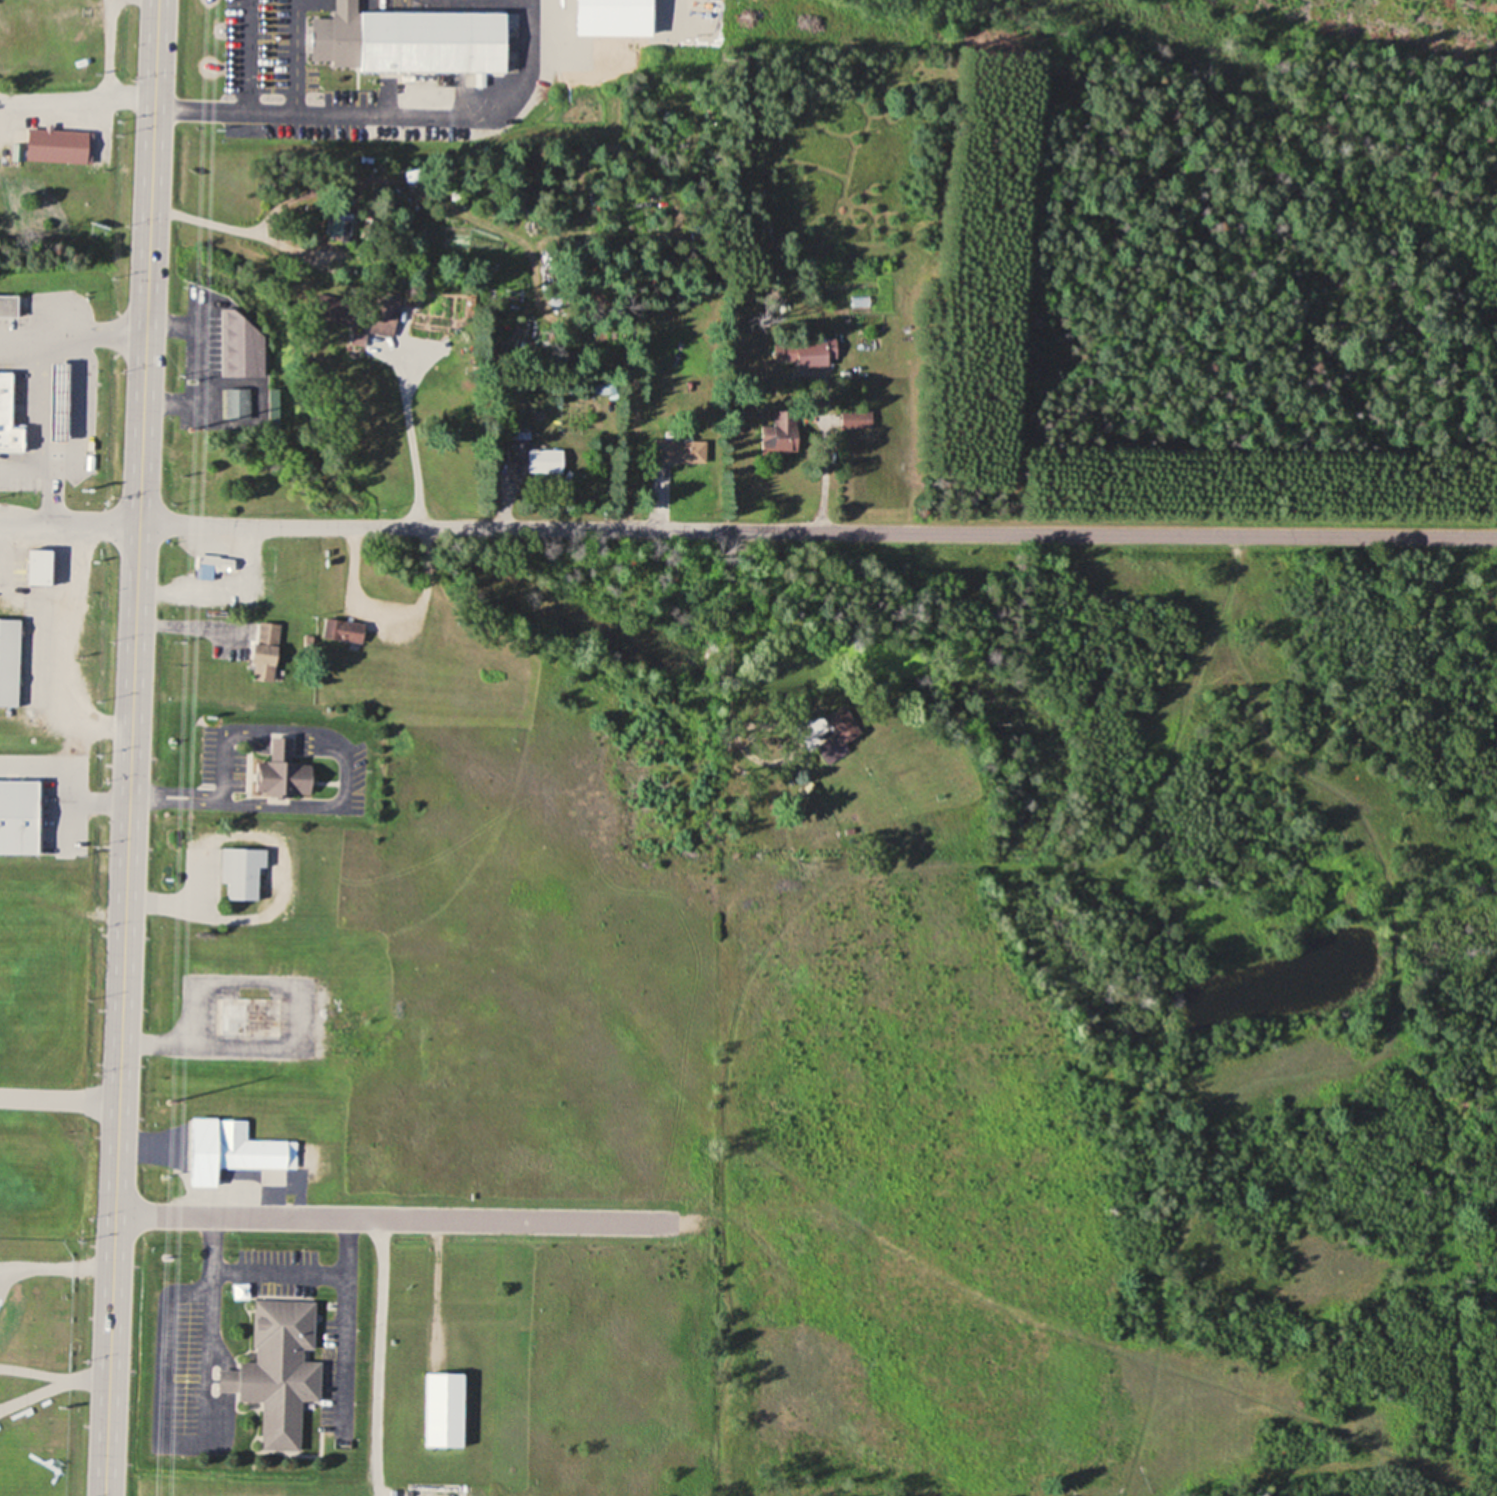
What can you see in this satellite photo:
building: (391, 41)
road: (76, 101)
building: (56, 147)
building: (342, 228)
building: (8, 306)
building: (384, 315)
building: (244, 348)
building: (815, 352)
building: (5, 398)
building: (237, 405)
power tower: (187, 428)
building: (768, 442)
road: (413, 448)
building: (89, 450)
building: (679, 451)
building: (545, 462)
road: (748, 529)
building: (215, 563)
building: (39, 567)
road: (391, 612)
building: (343, 630)
building: (265, 651)
building: (9, 662)
building: (839, 736)
road: (132, 748)
building: (283, 770)
building: (19, 816)
building: (243, 871)
building: (251, 1016)
power tower: (167, 1100)
building: (250, 1149)
road: (392, 1219)
building: (278, 1371)
building: (444, 1410)

